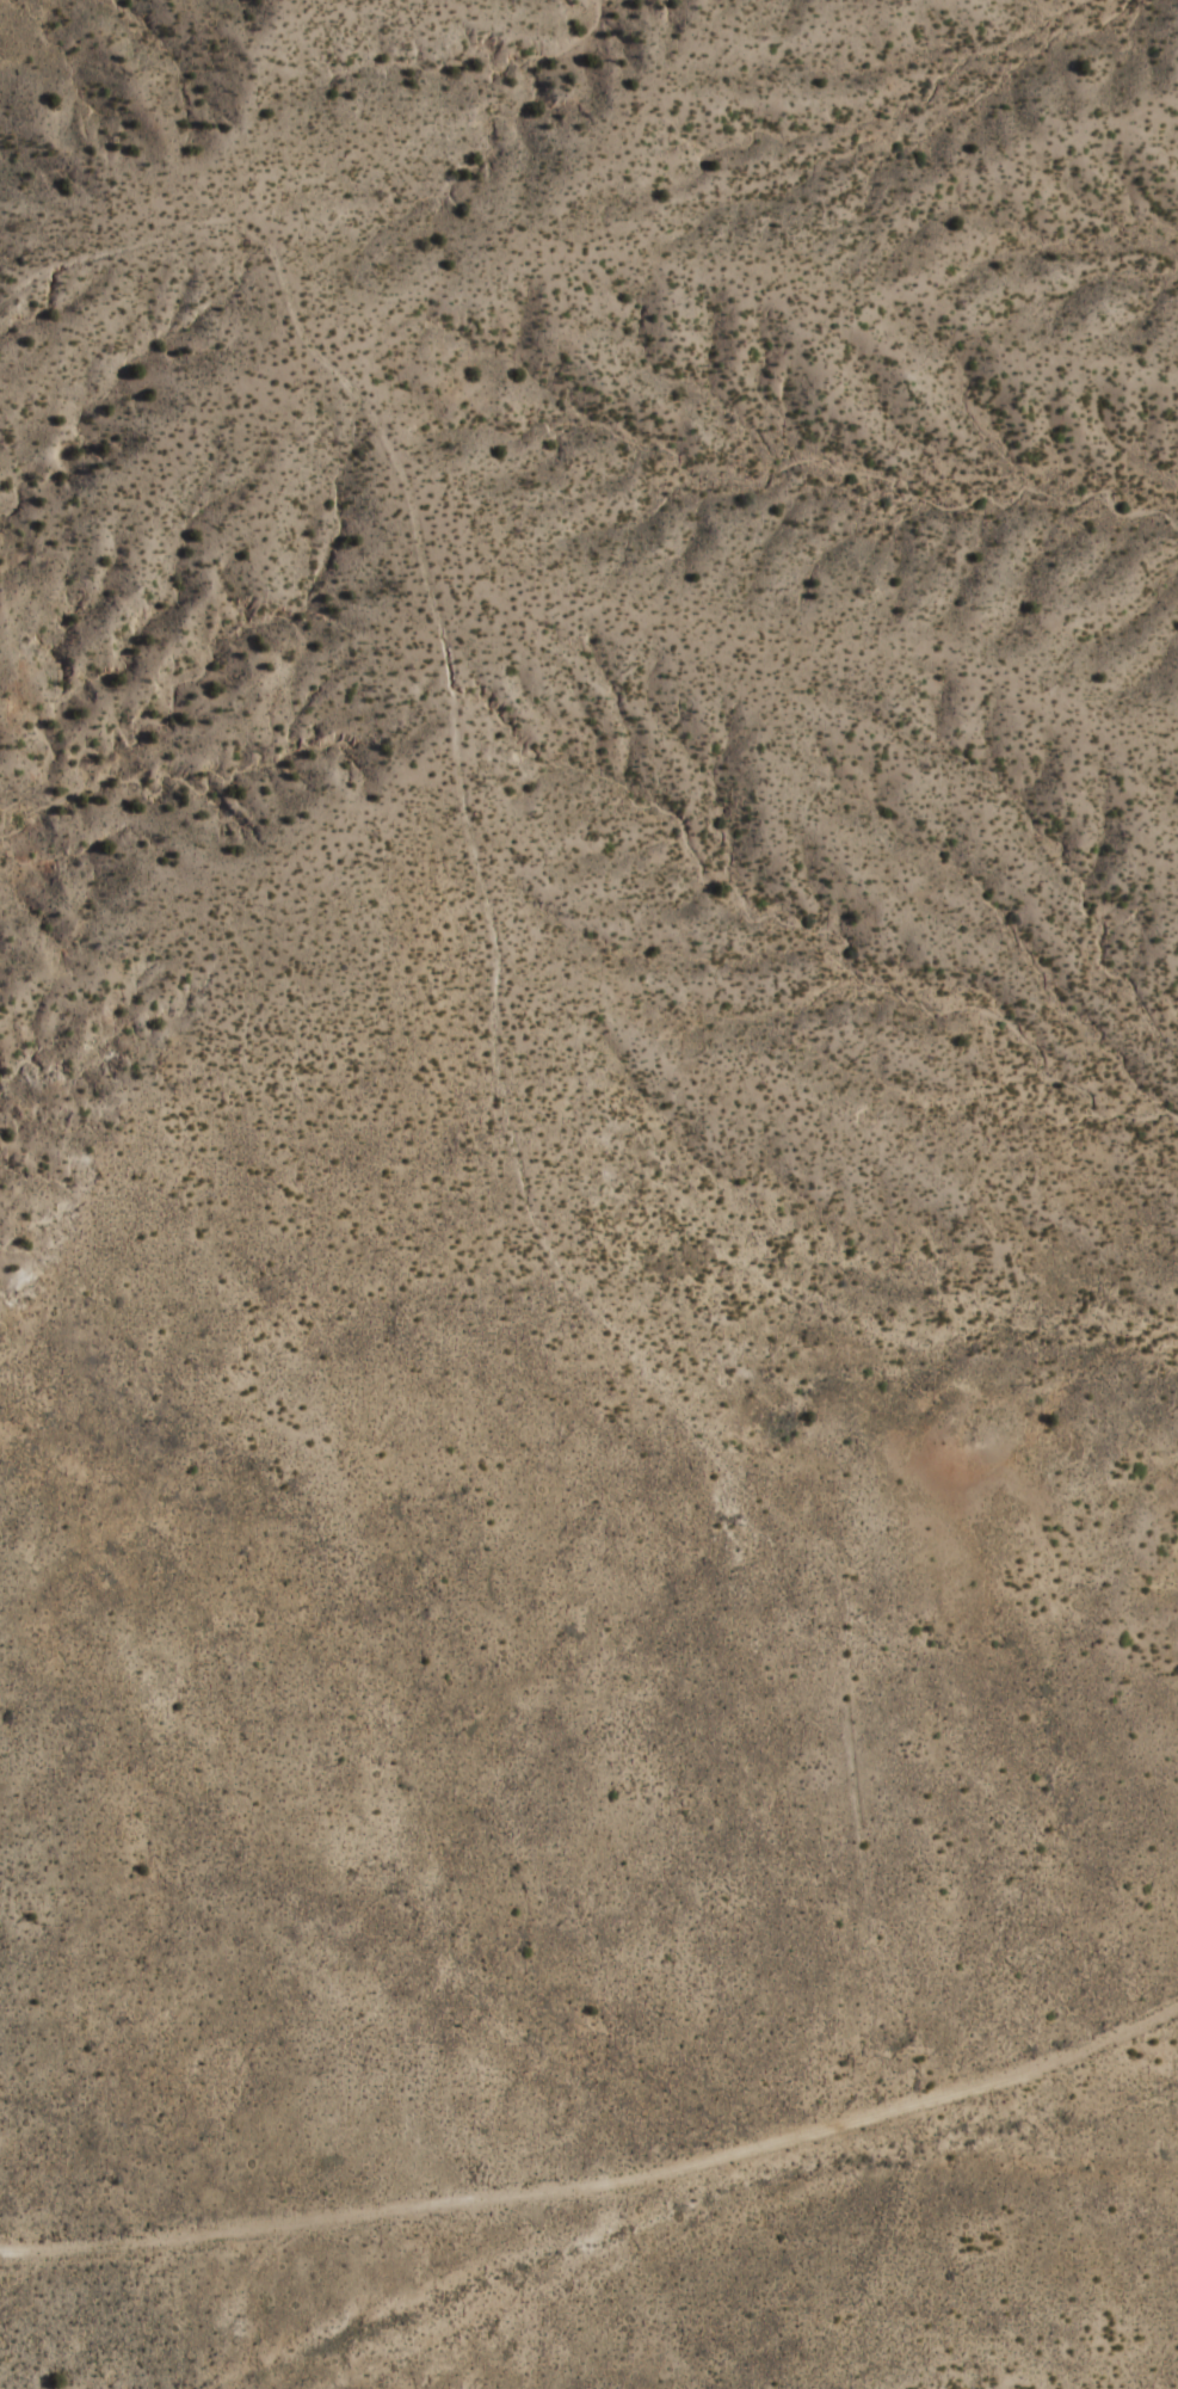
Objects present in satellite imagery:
road: (454, 1165)
road: (602, 2179)

